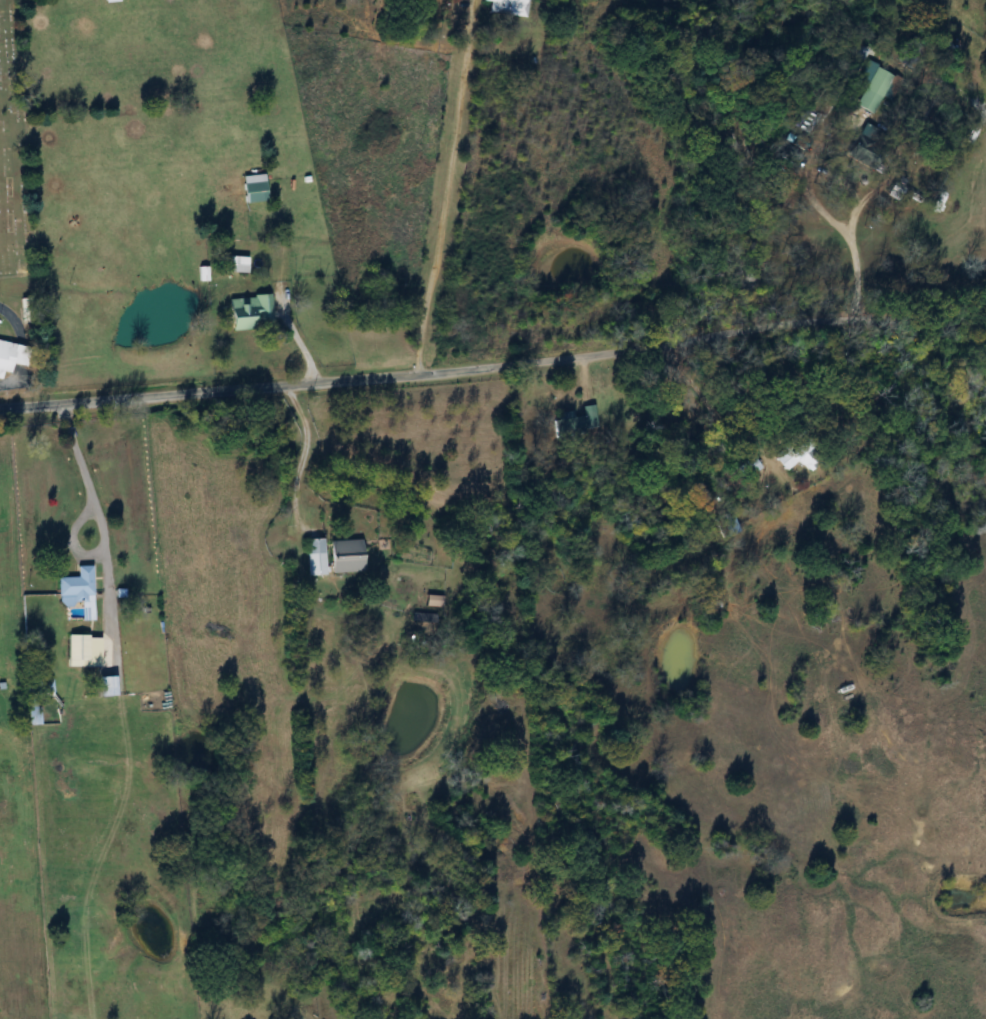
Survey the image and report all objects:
building: (504, 7)
building: (873, 91)
park: (12, 154)
building: (251, 189)
building: (231, 265)
road: (8, 314)
building: (4, 356)
road: (710, 368)
road: (216, 389)
road: (304, 449)
building: (749, 467)
road: (100, 514)
building: (723, 524)
building: (312, 557)
building: (74, 591)
building: (80, 651)
building: (104, 685)
building: (37, 687)

